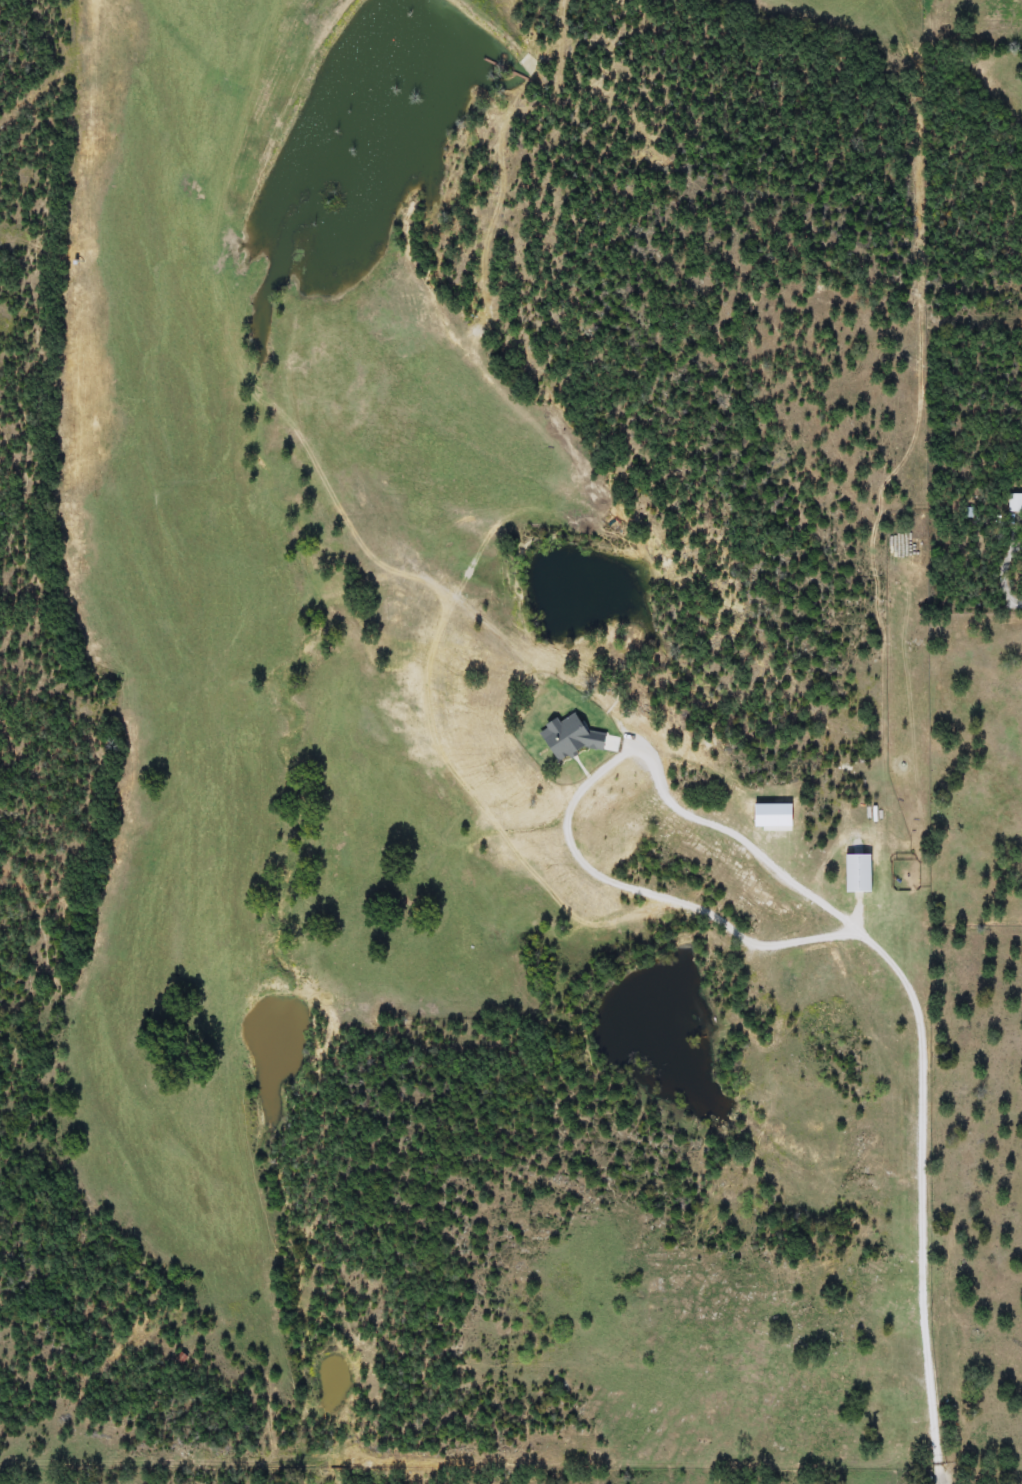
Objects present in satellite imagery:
building: (1015, 503)
road: (389, 541)
road: (883, 950)
building: (887, 1437)

